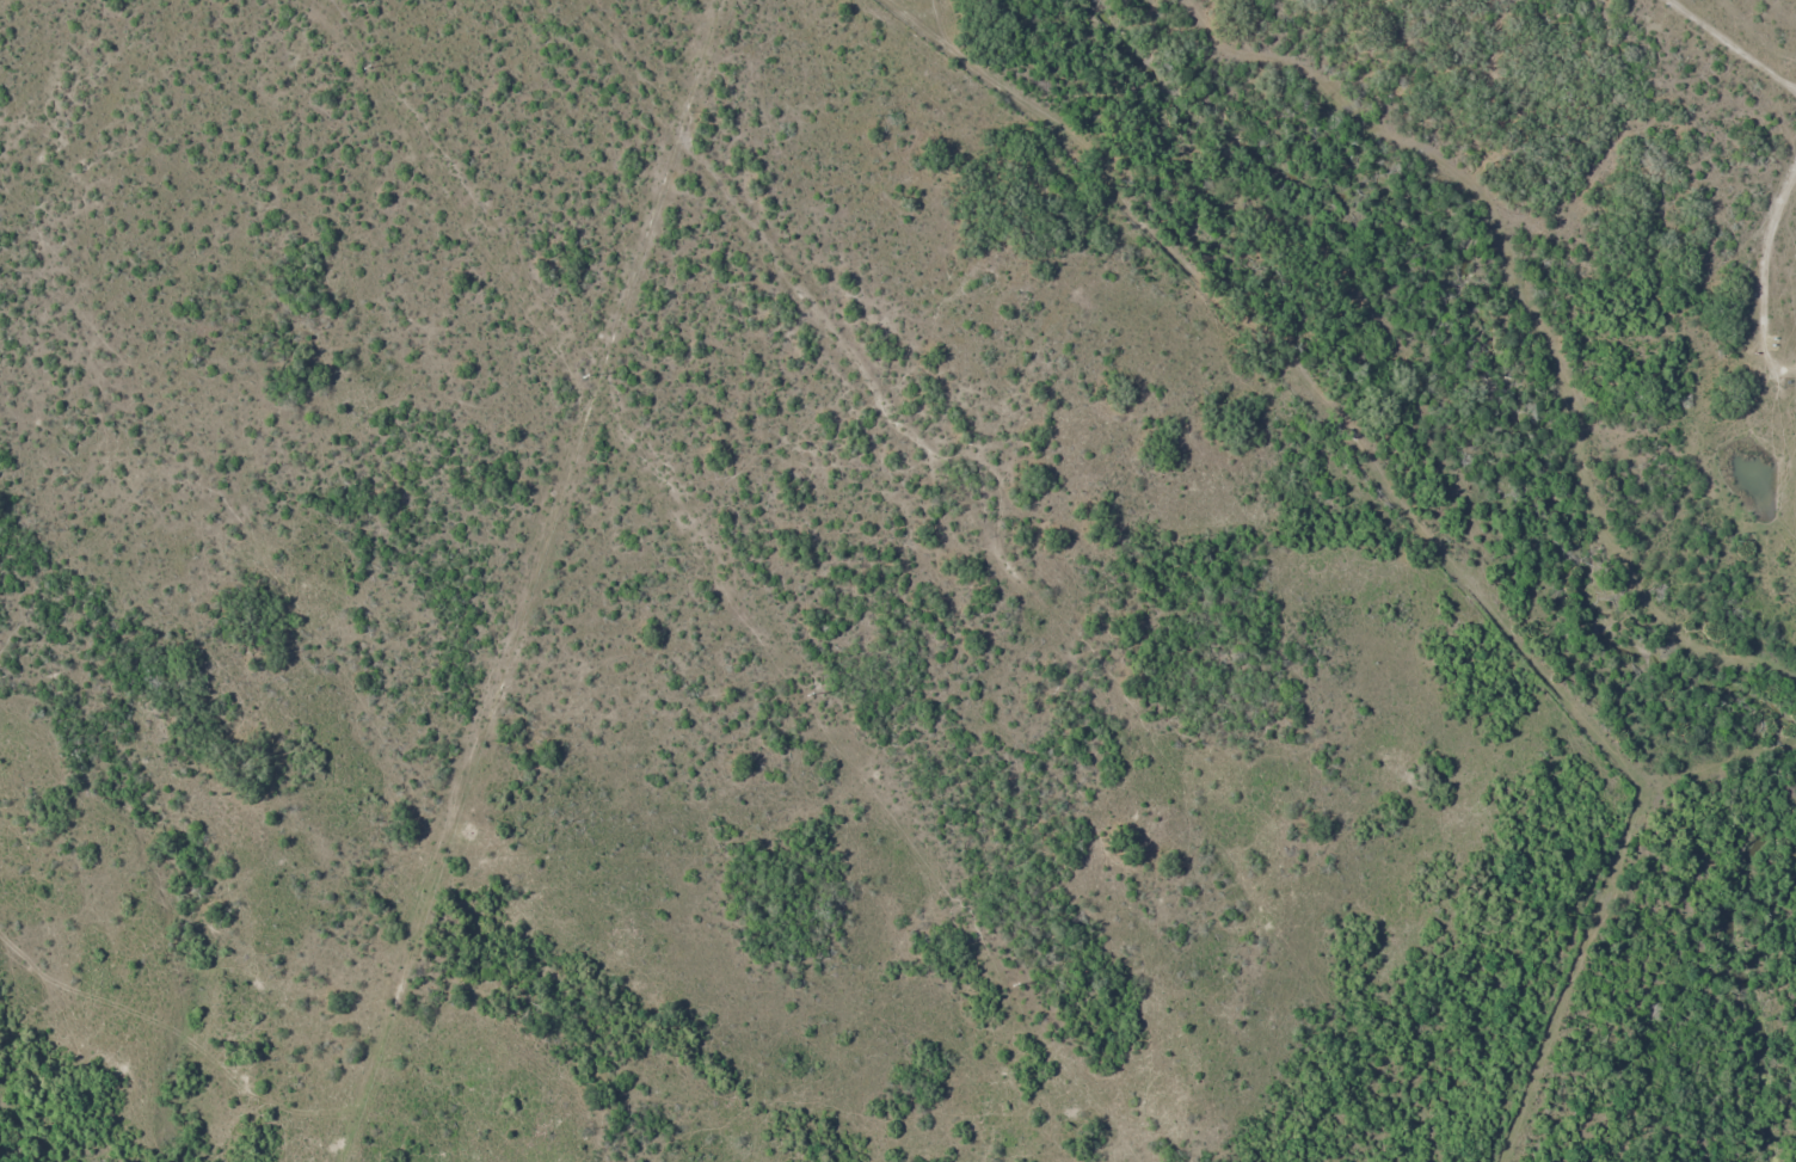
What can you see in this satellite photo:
road: (1730, 48)

